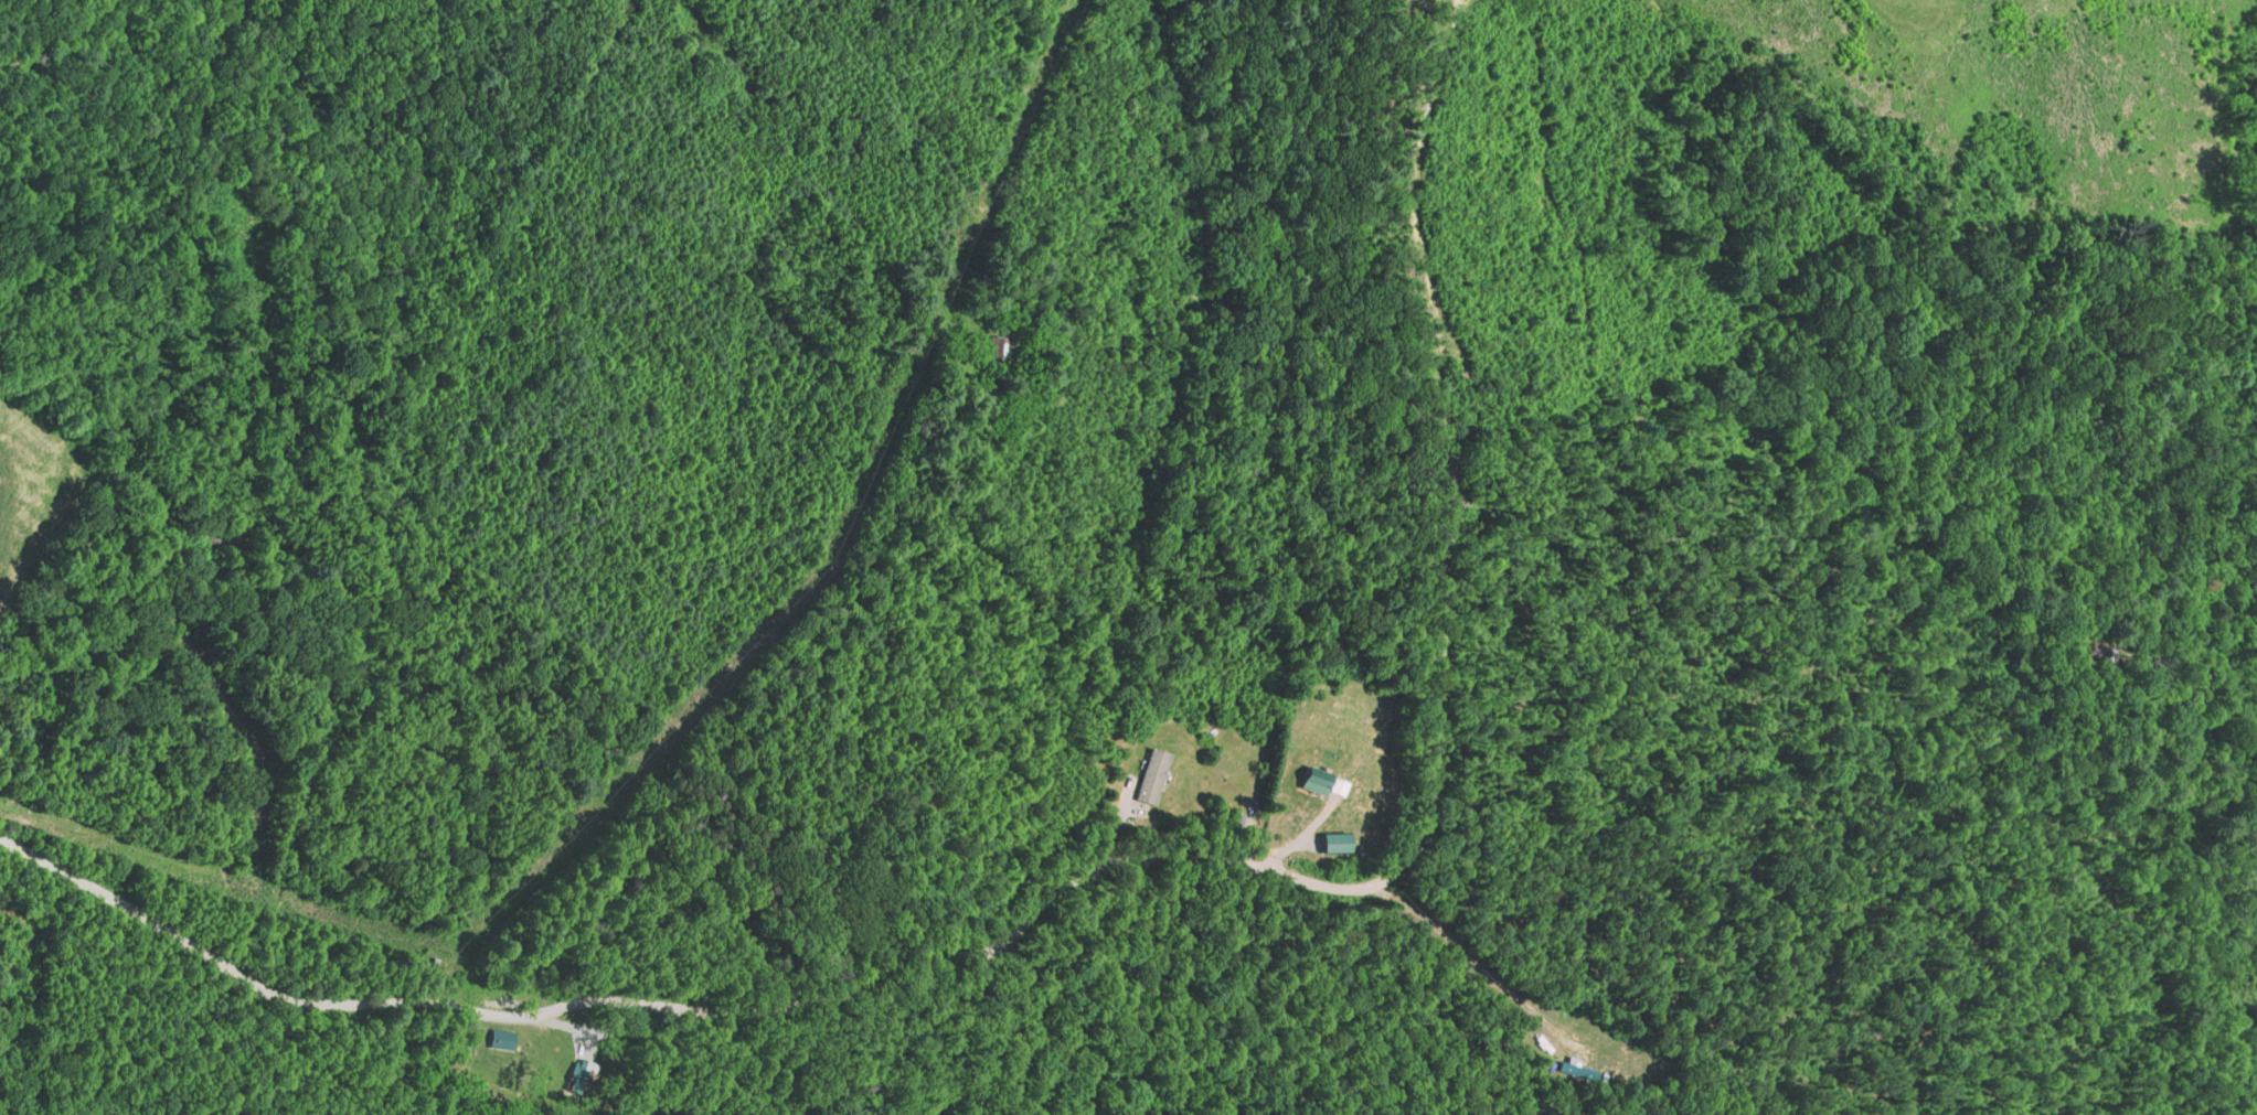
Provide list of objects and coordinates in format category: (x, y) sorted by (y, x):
building: (997, 347)
road: (1043, 624)
building: (1151, 773)
building: (1309, 779)
building: (1326, 841)
road: (1141, 858)
building: (13, 937)
road: (1478, 962)
building: (502, 1040)

